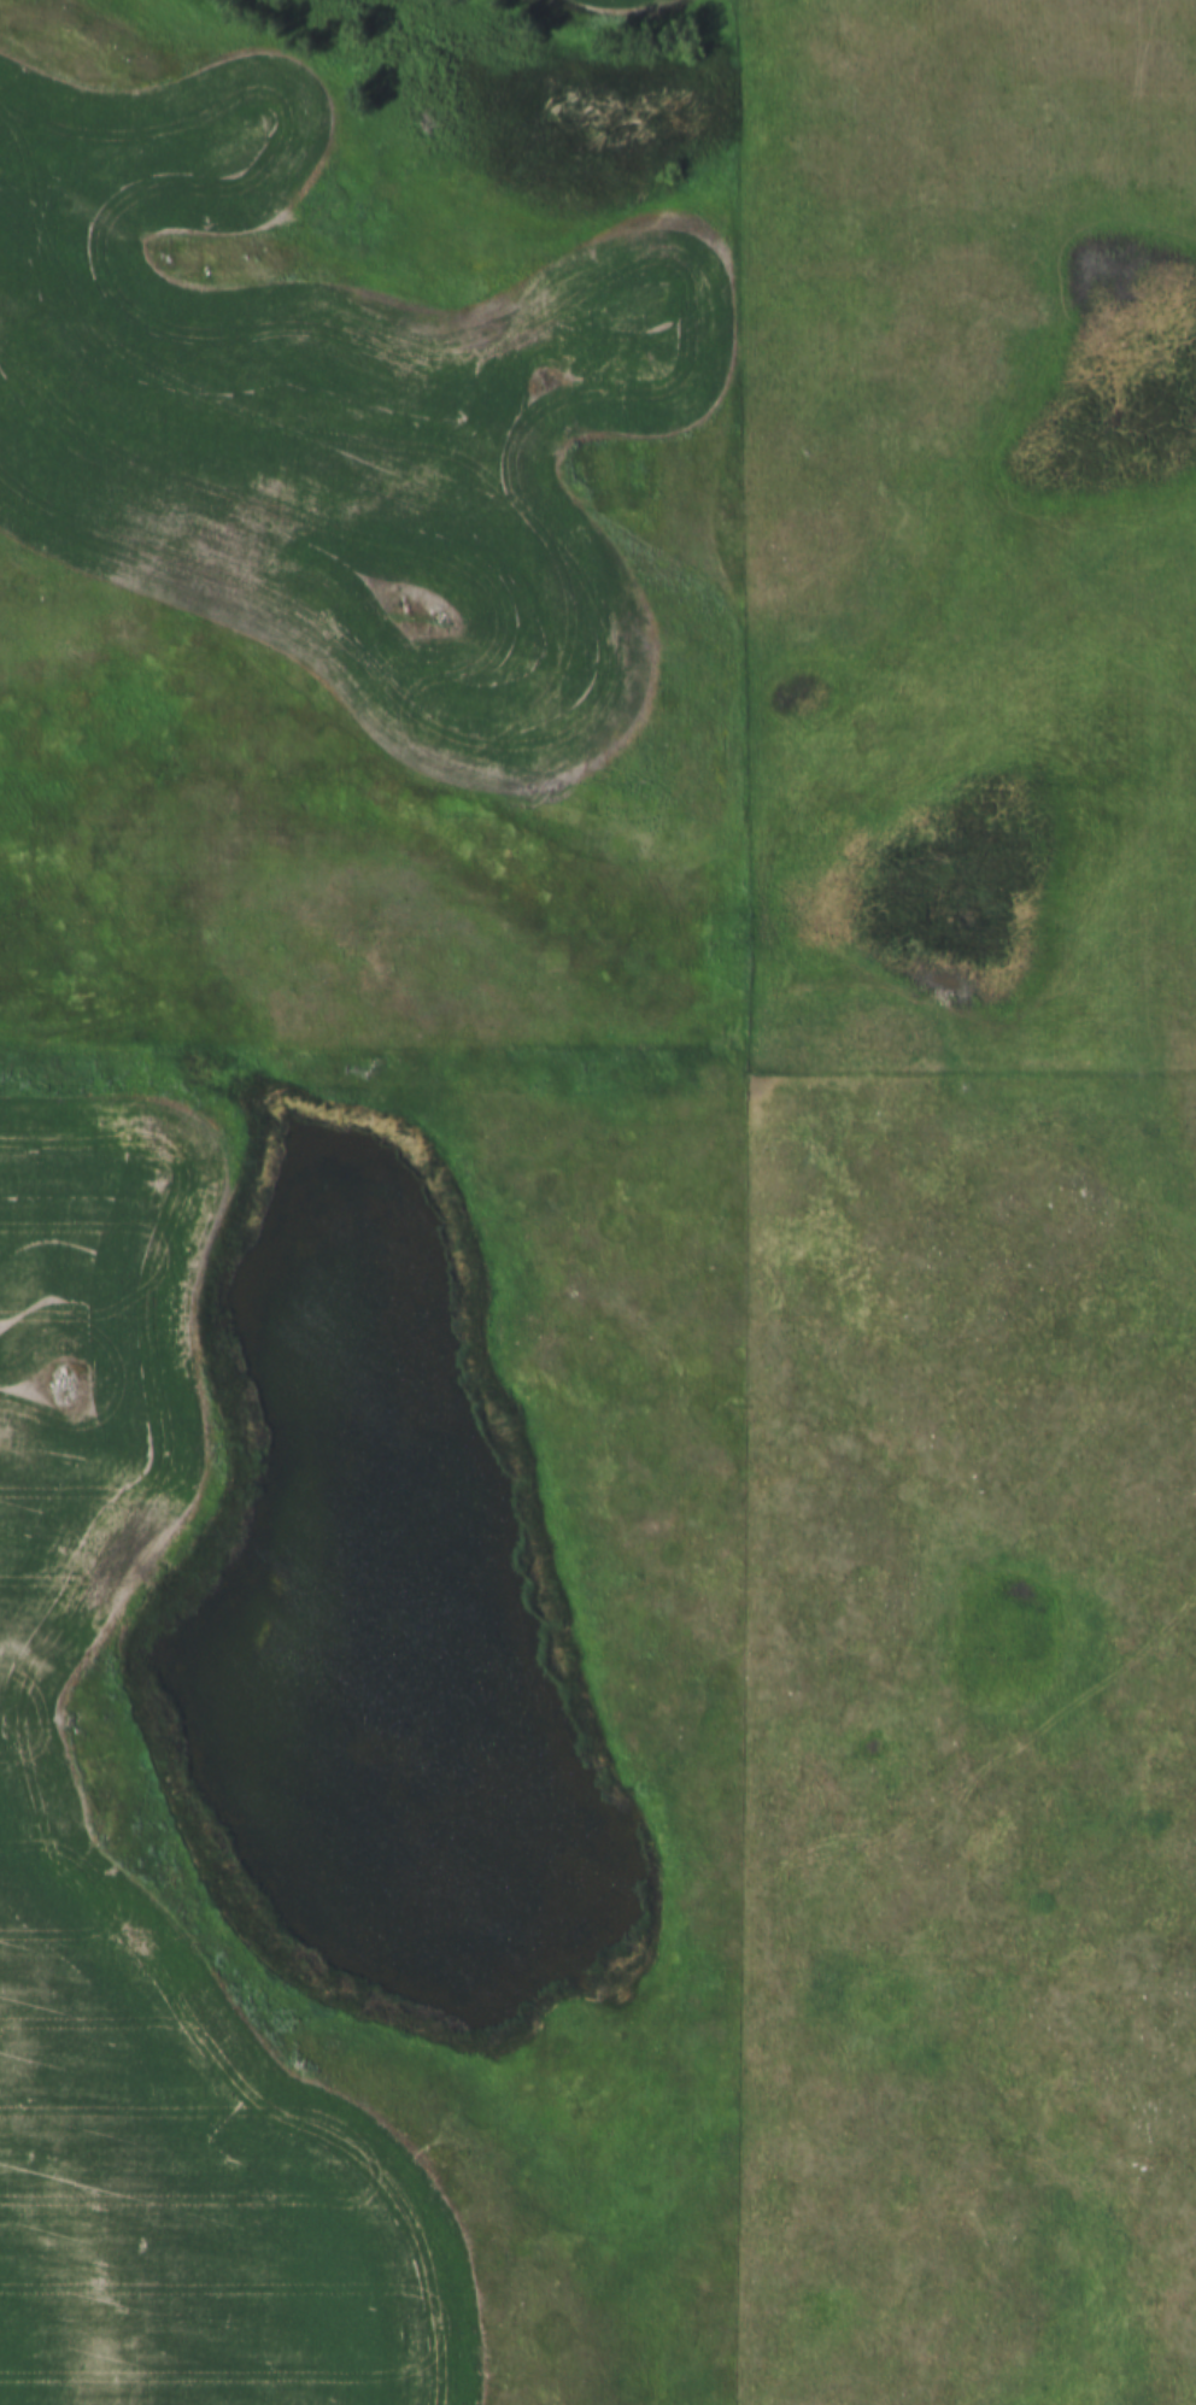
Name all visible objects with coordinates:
road: (598, 1124)

